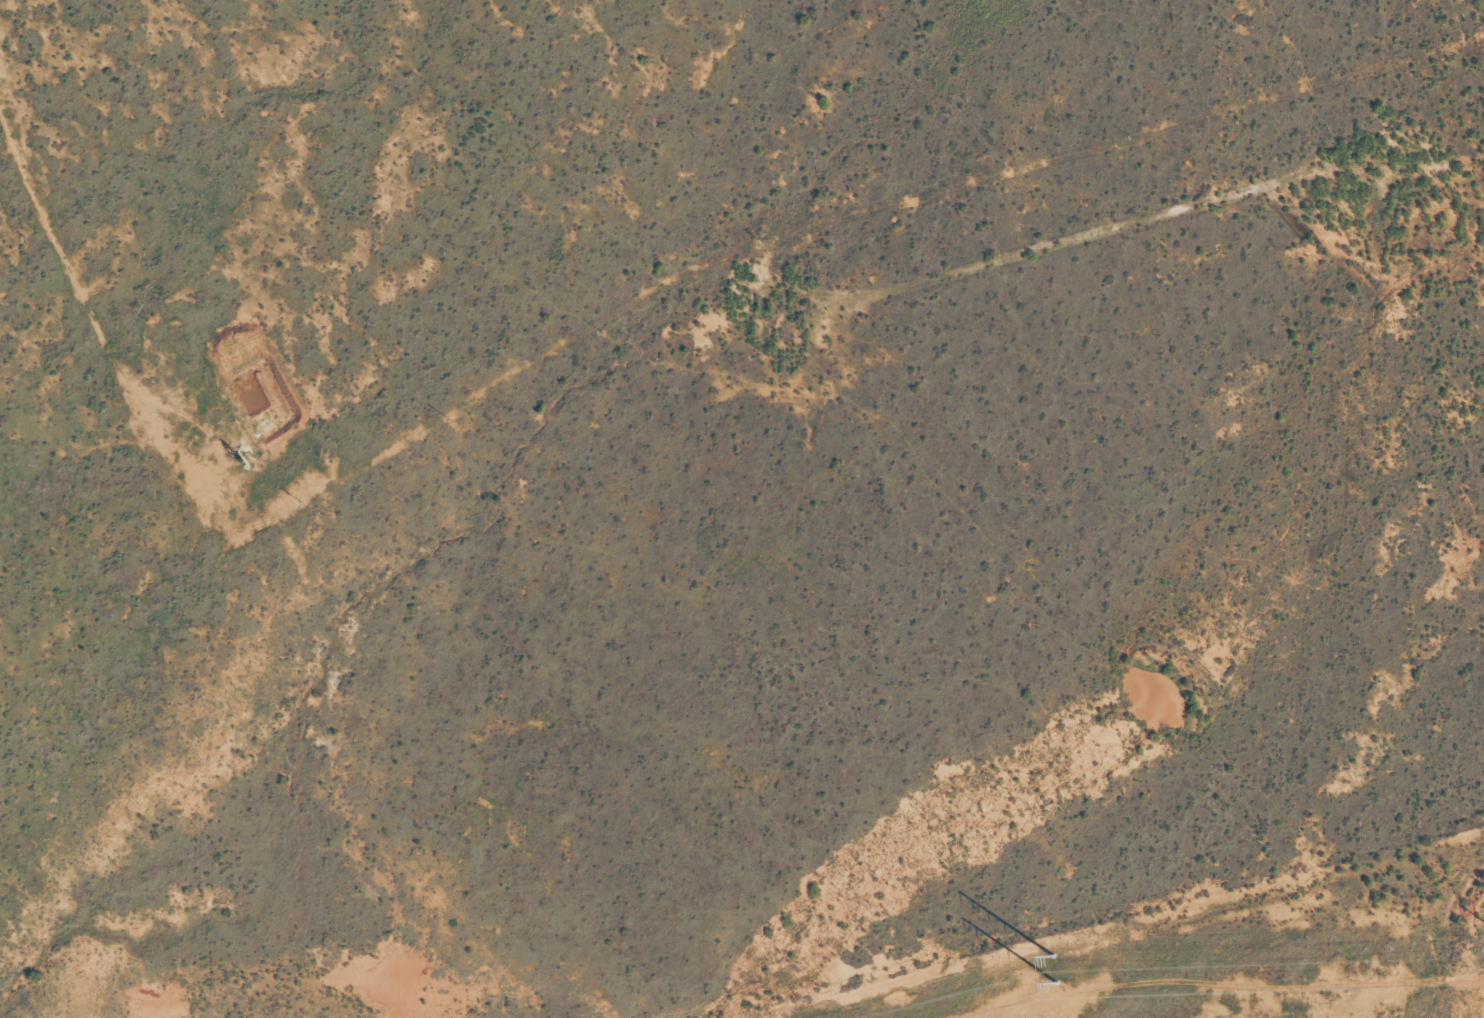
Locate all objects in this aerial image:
power tower: (1054, 970)

